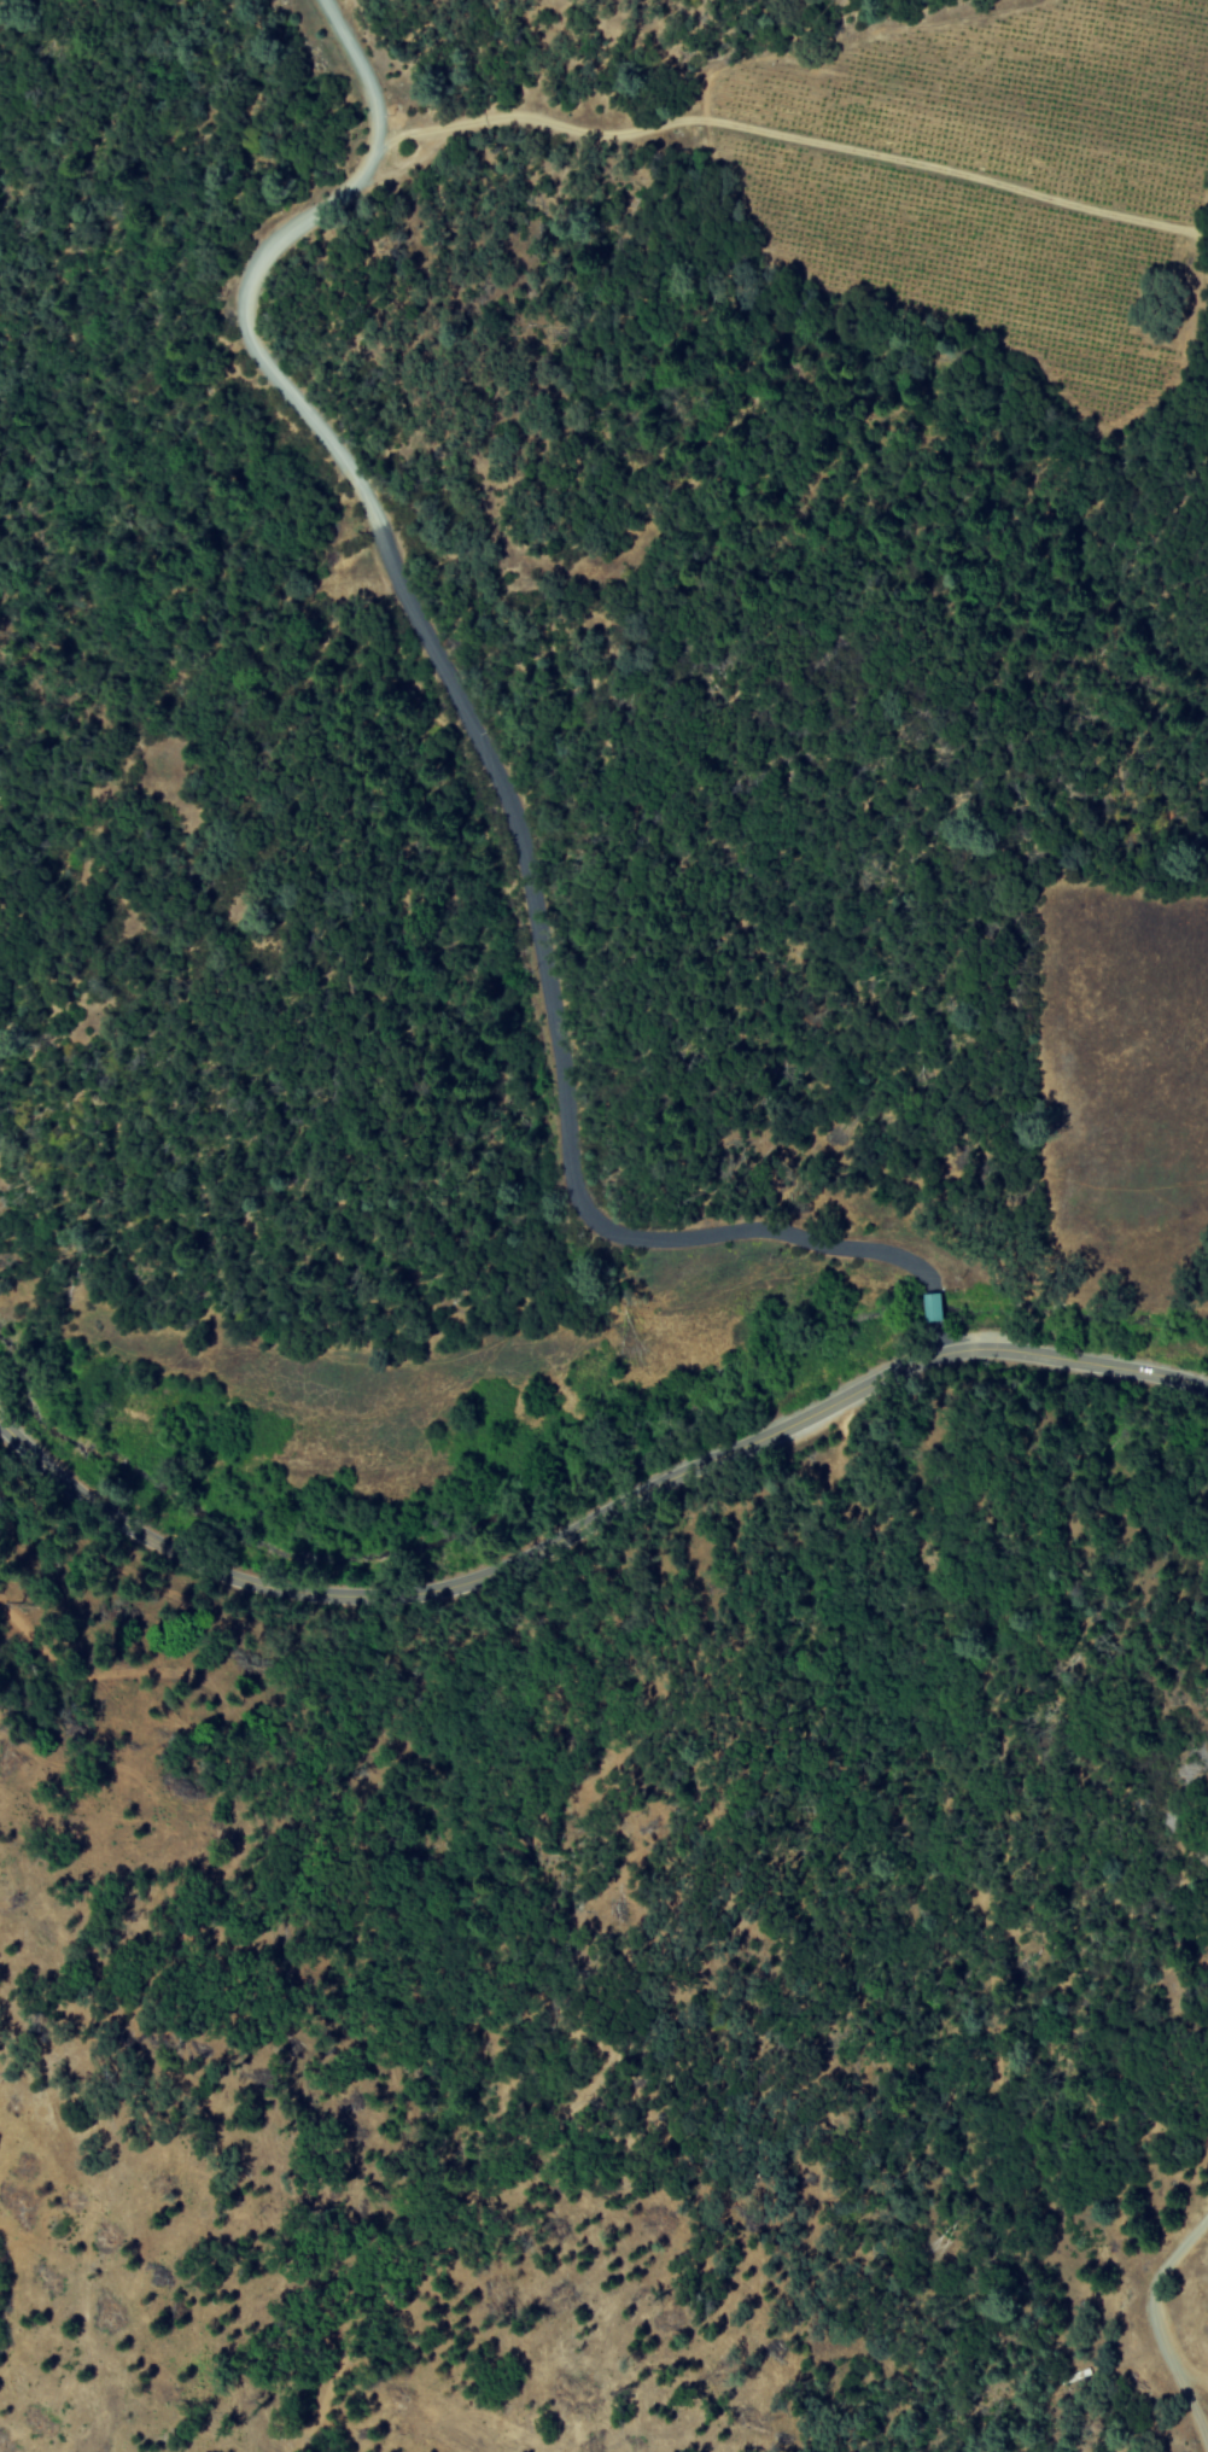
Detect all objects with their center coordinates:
road: (789, 135)
crop: (1000, 160)
road: (303, 426)
road: (629, 1237)
building: (933, 1306)
road: (591, 1520)
road: (1159, 2324)

